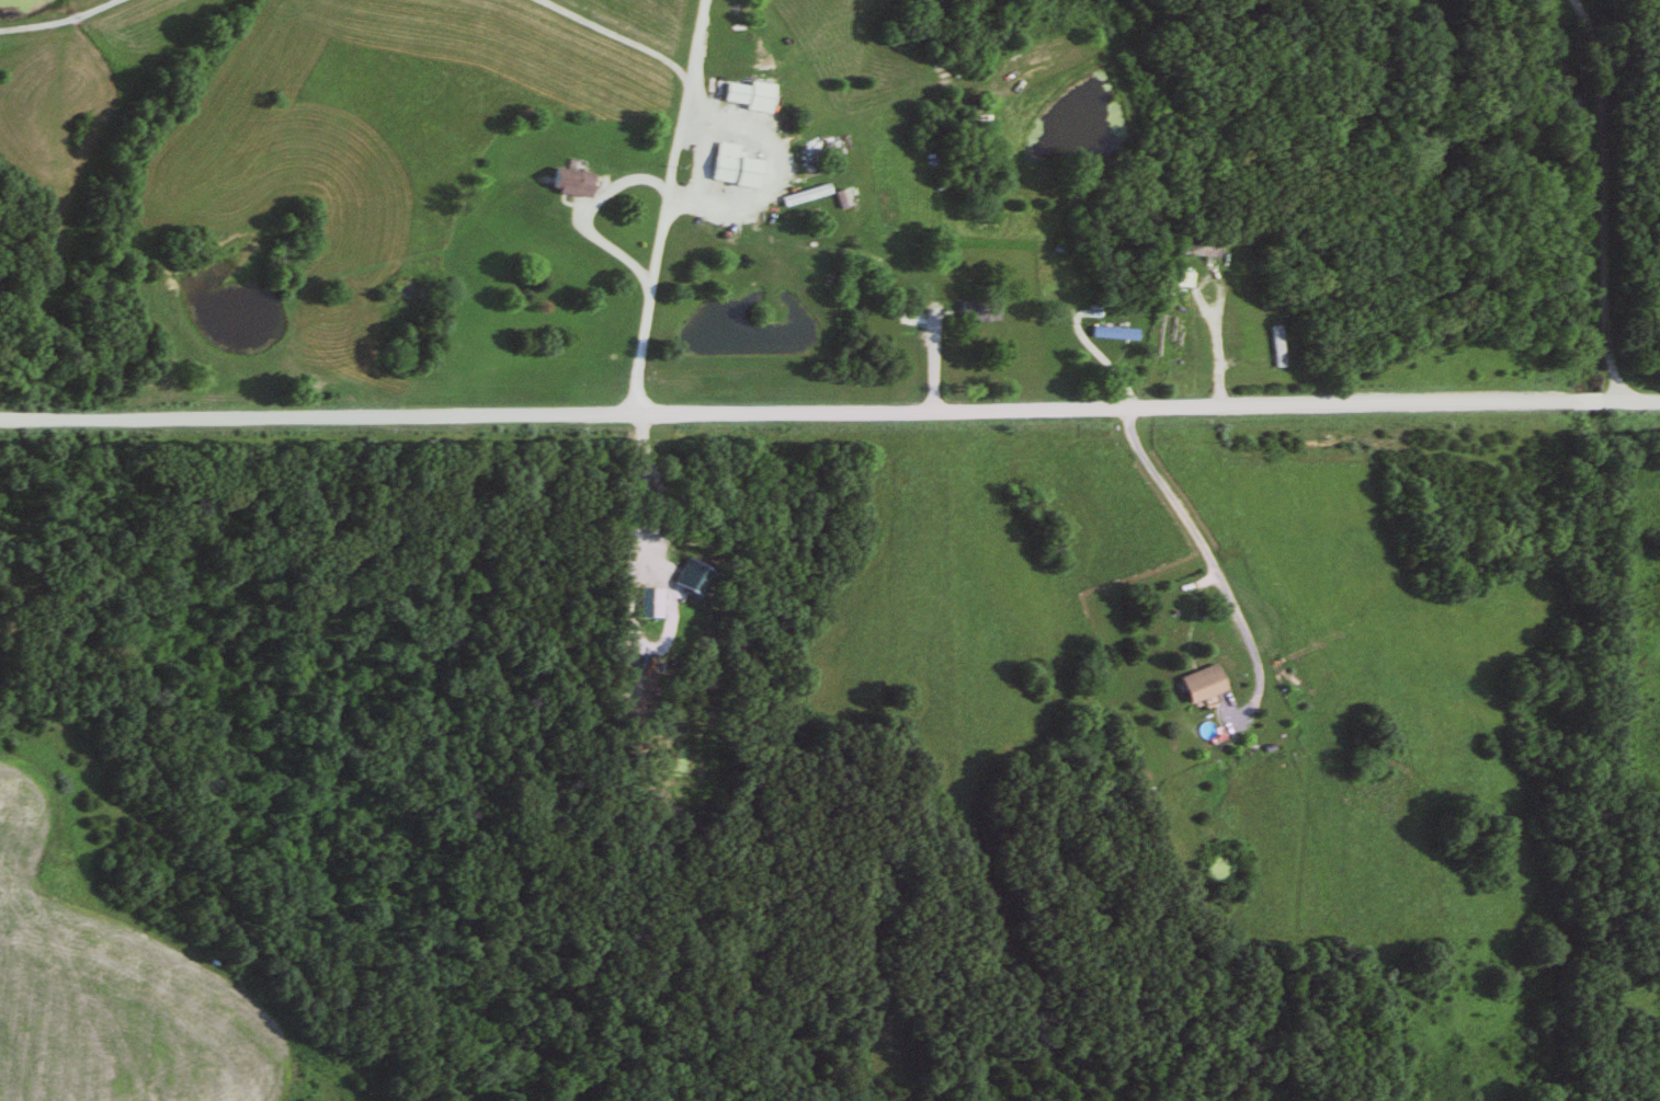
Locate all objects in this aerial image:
road: (57, 21)
road: (615, 35)
building: (732, 94)
building: (721, 163)
road: (774, 171)
building: (567, 183)
road: (1602, 199)
road: (660, 207)
road: (582, 215)
building: (1192, 251)
building: (977, 309)
building: (1110, 334)
road: (830, 414)
road: (635, 479)
building: (648, 498)
road: (1180, 508)
building: (1196, 684)

